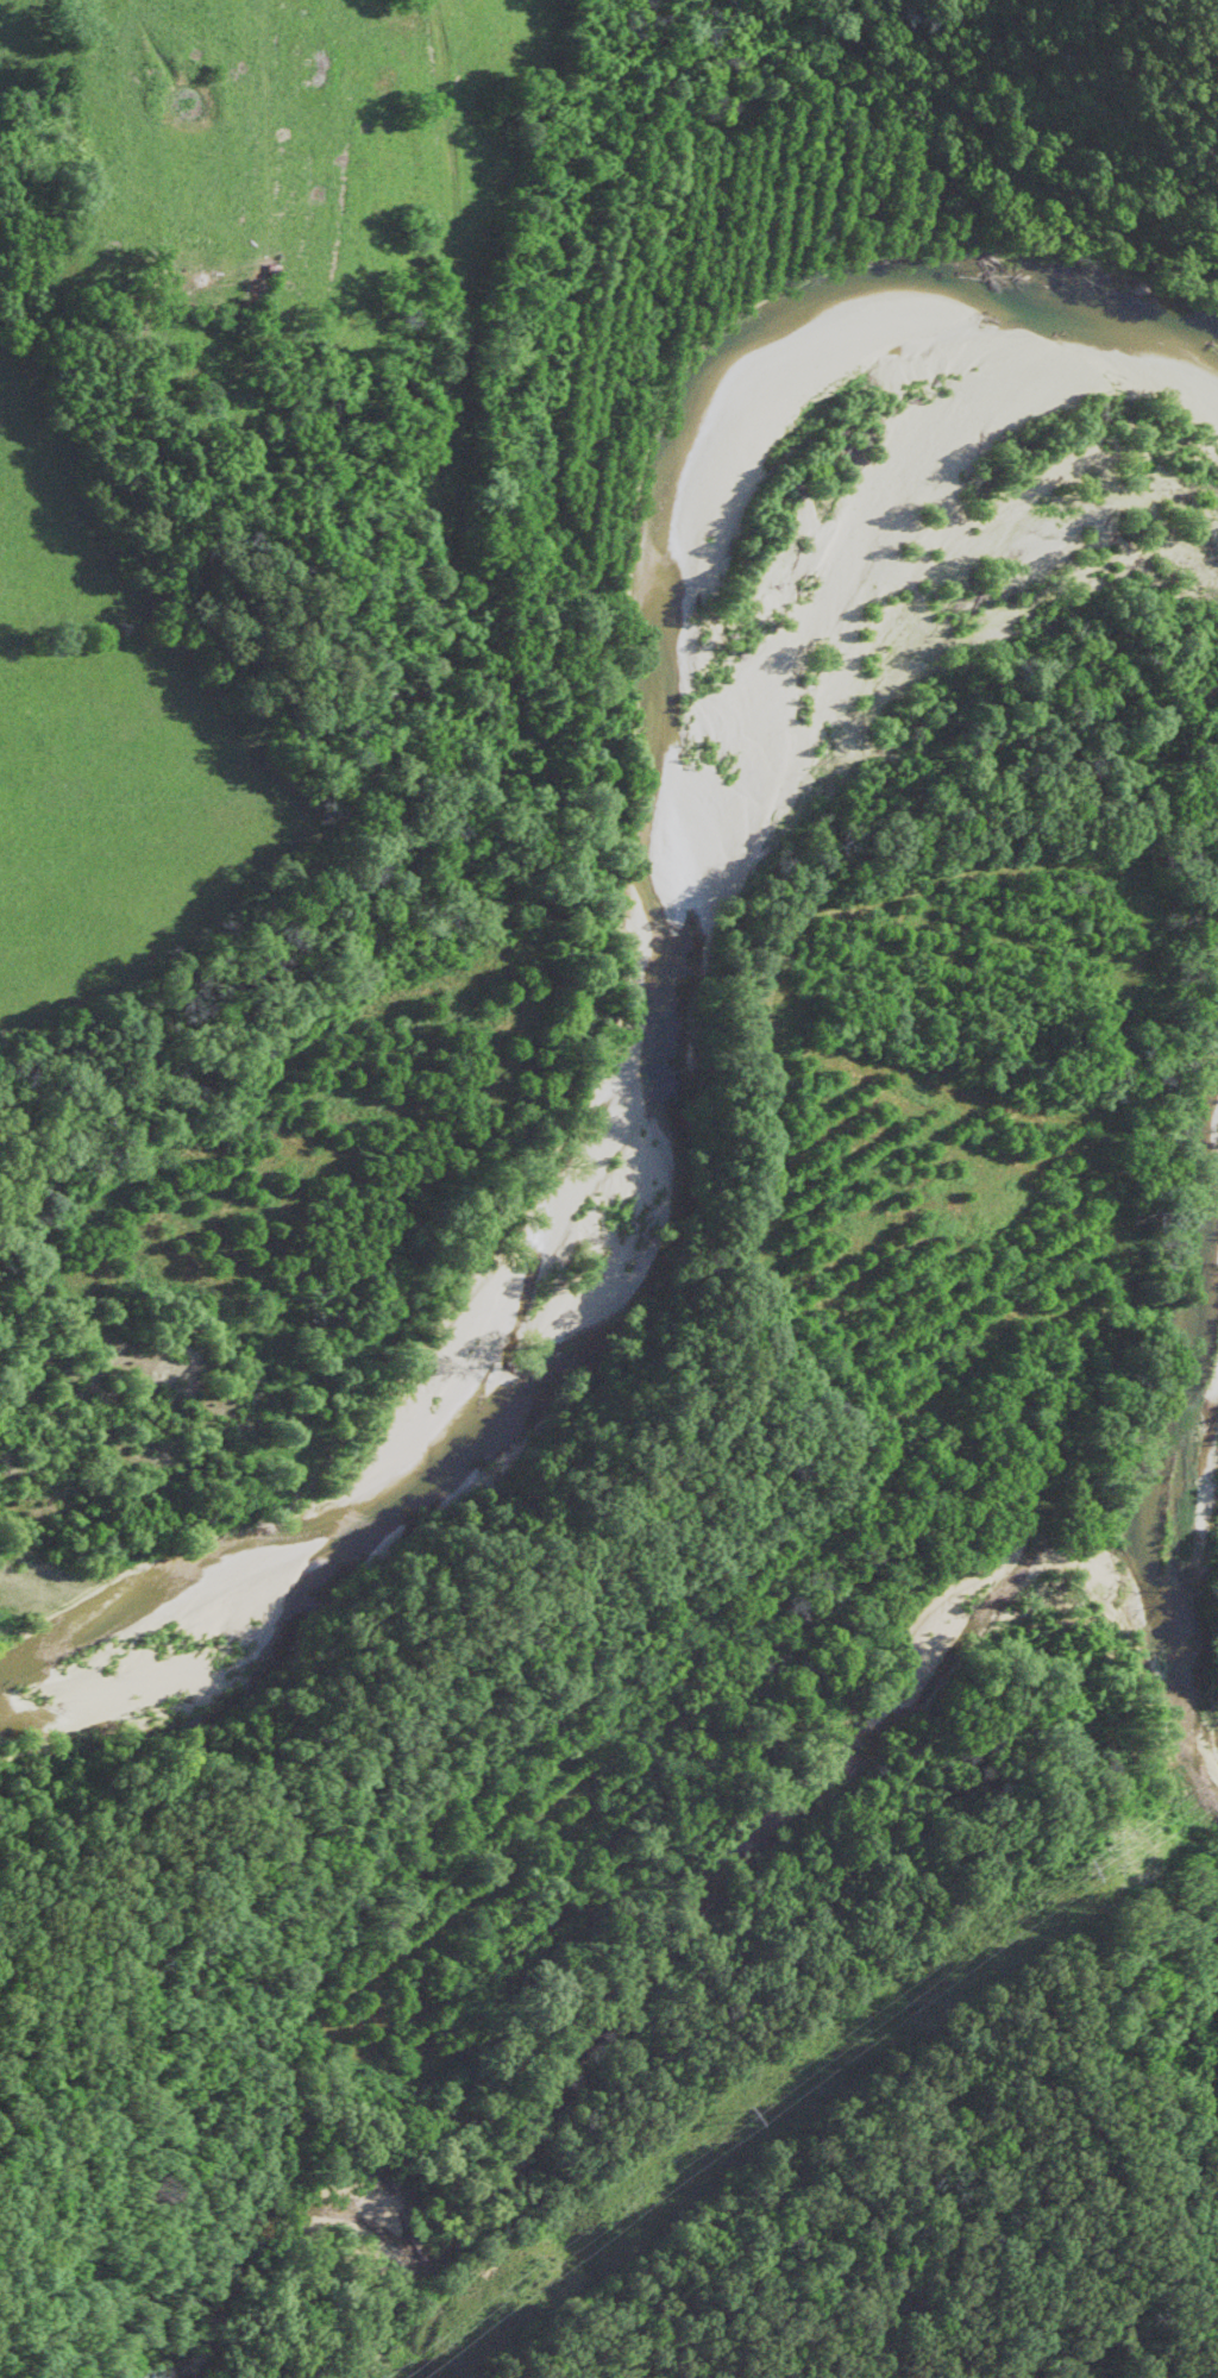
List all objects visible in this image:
road: (482, 419)
river: (648, 980)
river: (1157, 1442)

